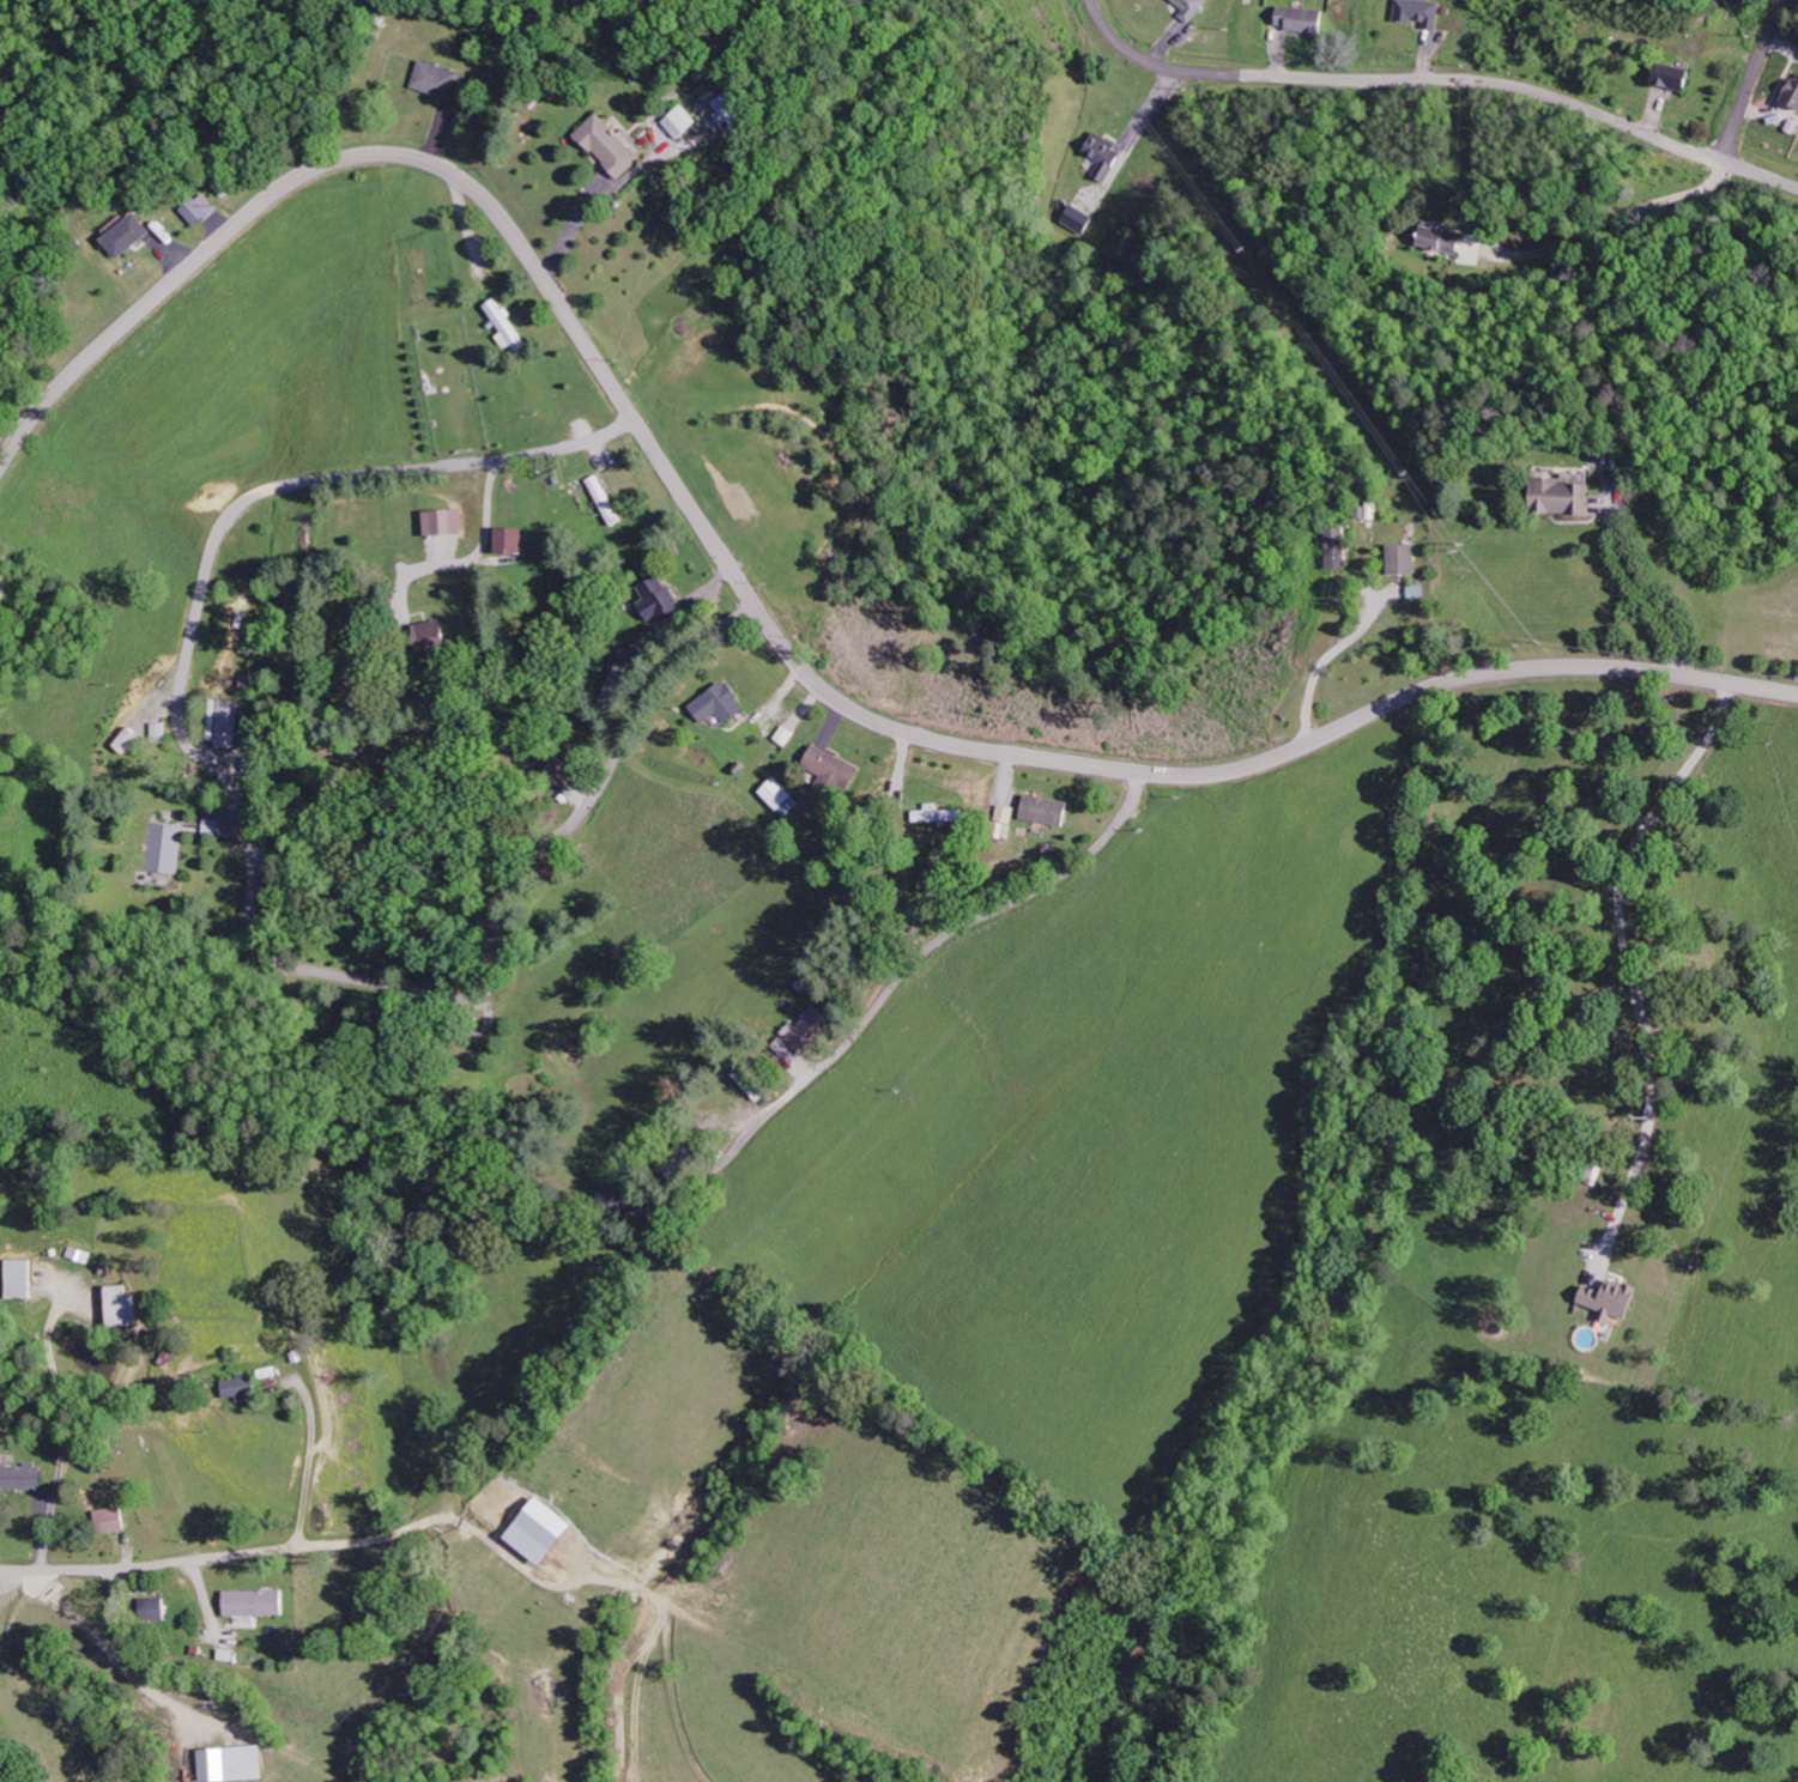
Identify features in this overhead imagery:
building: (1195, 8)
building: (1422, 12)
building: (1304, 19)
road: (1441, 72)
road: (1755, 75)
building: (1678, 78)
building: (440, 80)
building: (1794, 97)
building: (685, 122)
building: (612, 146)
building: (1106, 156)
building: (200, 211)
building: (1079, 219)
building: (128, 236)
building: (1442, 240)
building: (509, 328)
road: (502, 468)
building: (1568, 496)
building: (607, 499)
building: (447, 521)
building: (515, 539)
building: (1338, 547)
building: (1405, 558)
building: (6, 582)
building: (661, 599)
road: (757, 611)
building: (437, 636)
building: (722, 703)
building: (230, 722)
building: (788, 734)
road: (622, 753)
building: (836, 769)
building: (782, 796)
building: (1048, 810)
building: (943, 813)
building: (167, 848)
road: (956, 927)
building: (816, 1029)
building: (23, 1279)
building: (1615, 1301)
building: (125, 1307)
building: (242, 1388)
building: (23, 1478)
building: (116, 1520)
road: (151, 1566)
building: (258, 1602)
building: (162, 1610)
building: (236, 1764)

